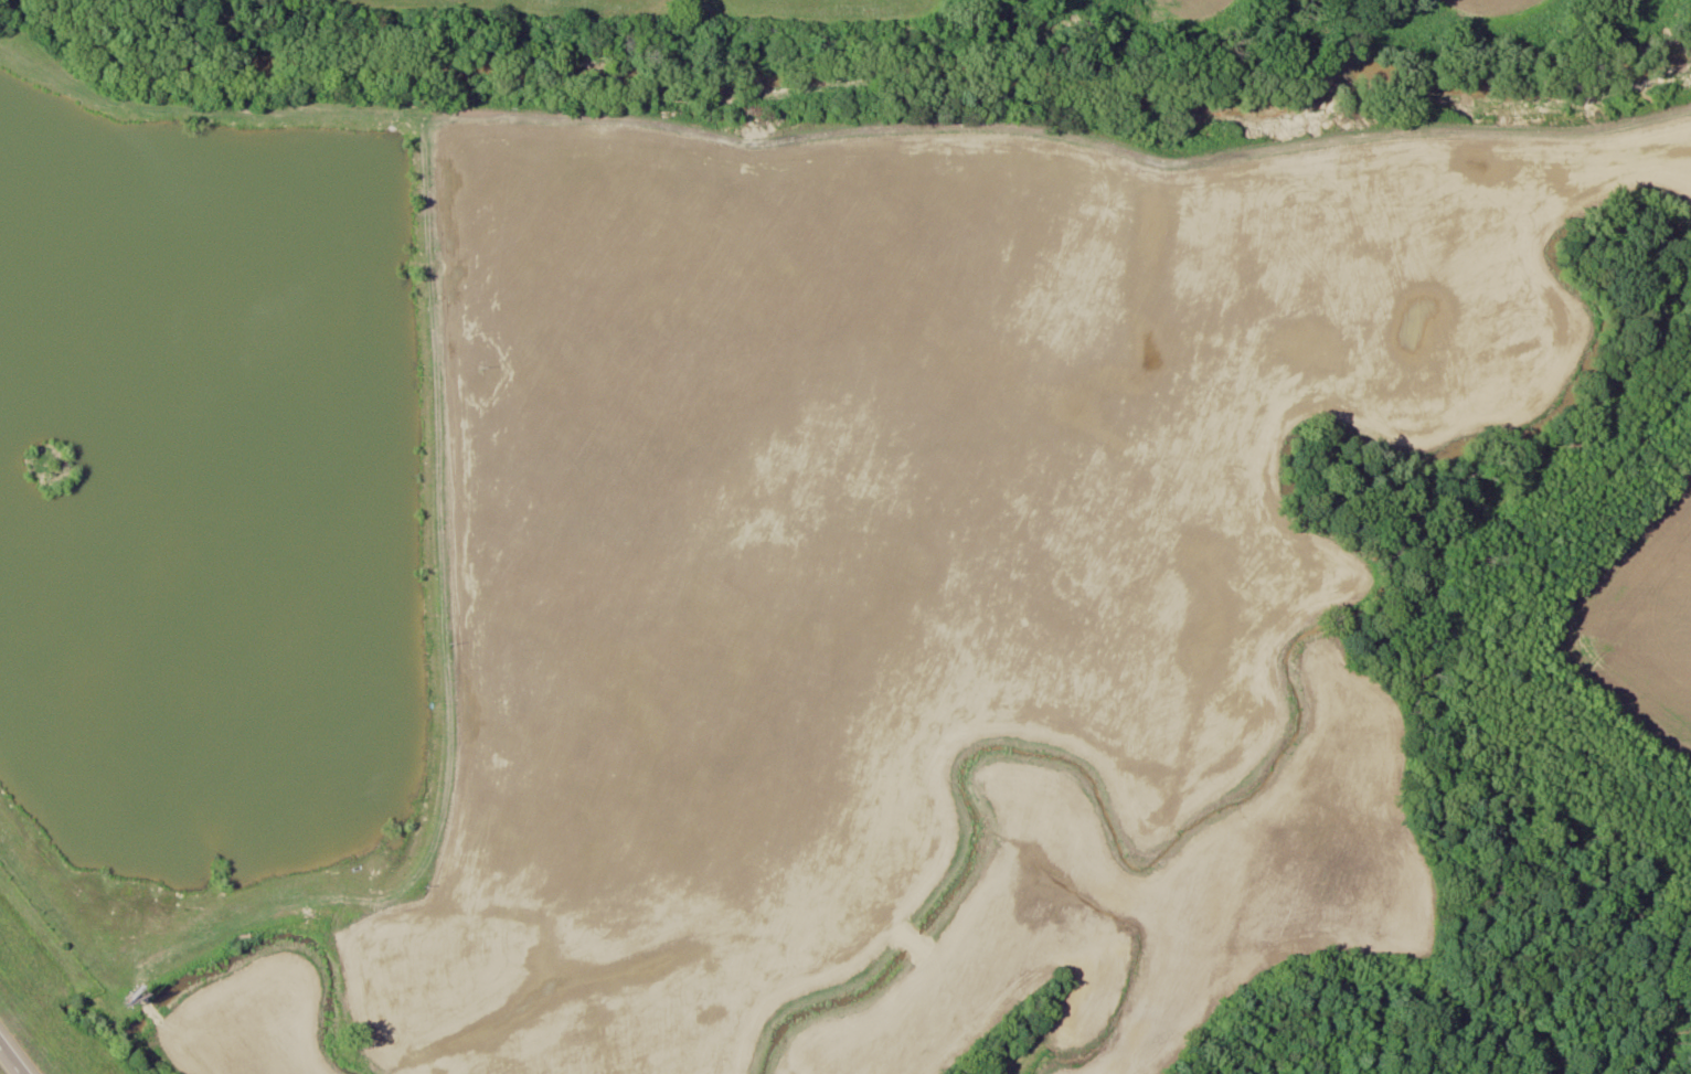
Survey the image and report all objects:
road: (14, 1053)

